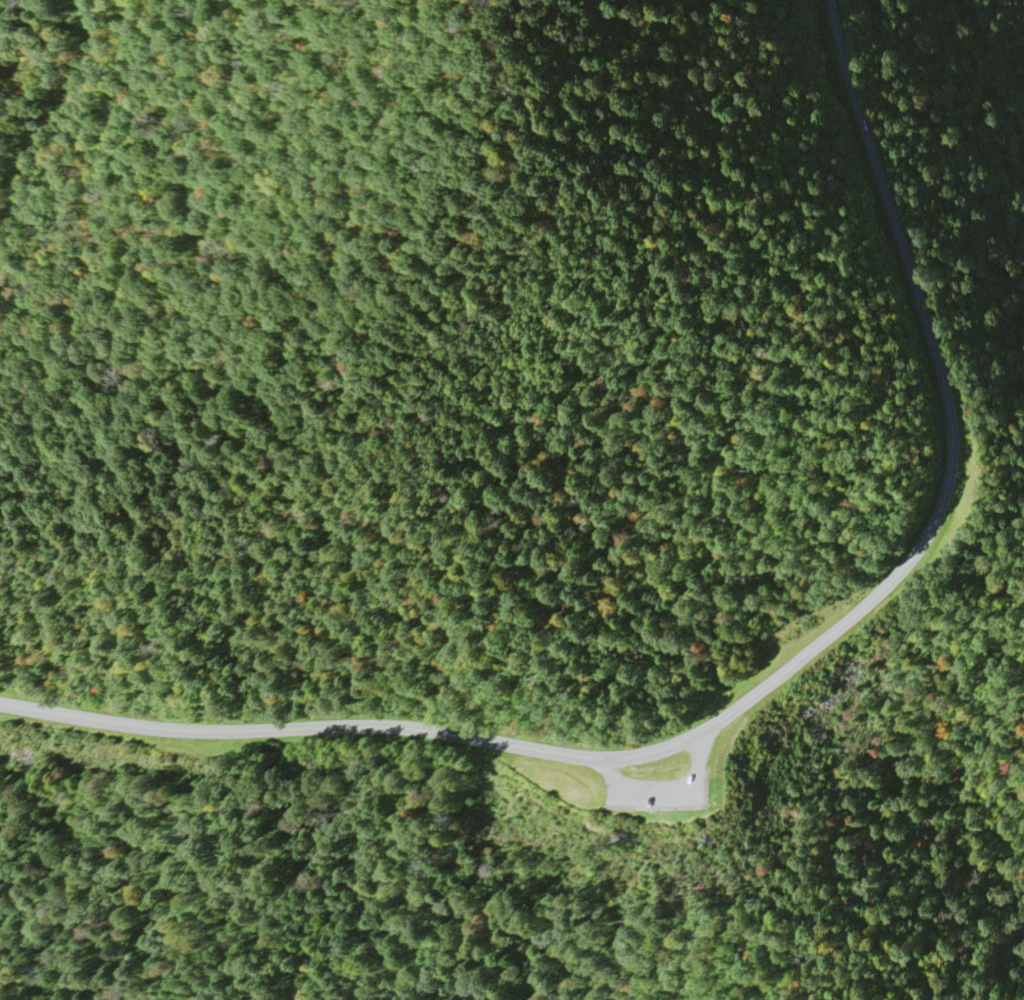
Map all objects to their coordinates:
road: (763, 691)
road: (670, 793)

